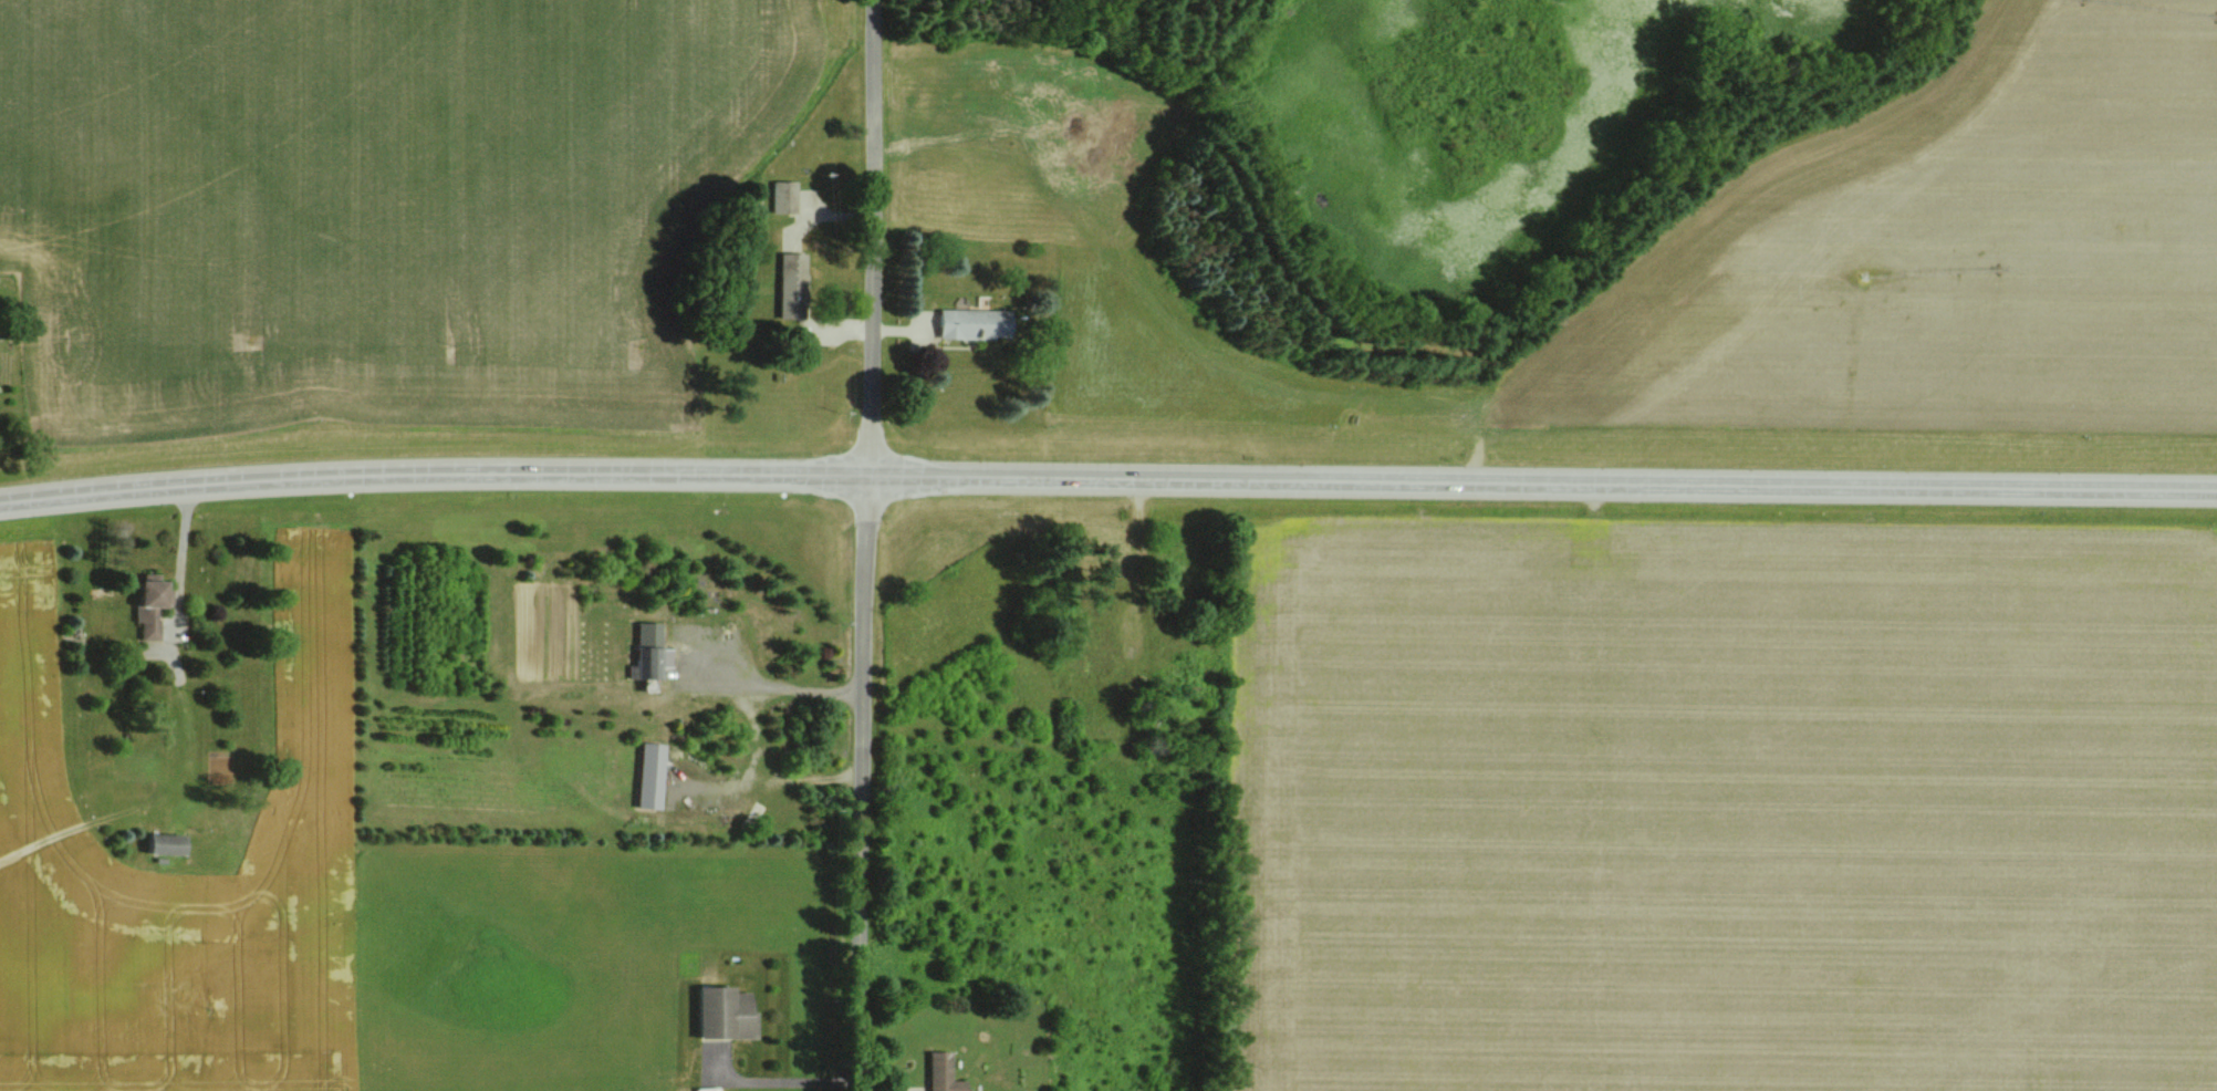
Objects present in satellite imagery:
building: (778, 197)
building: (748, 202)
building: (783, 281)
building: (965, 324)
road: (1107, 476)
road: (865, 545)
road: (180, 555)
building: (152, 605)
building: (645, 653)
road: (752, 723)
building: (644, 777)
building: (166, 844)
building: (717, 1014)
building: (935, 1072)
road: (770, 1081)

